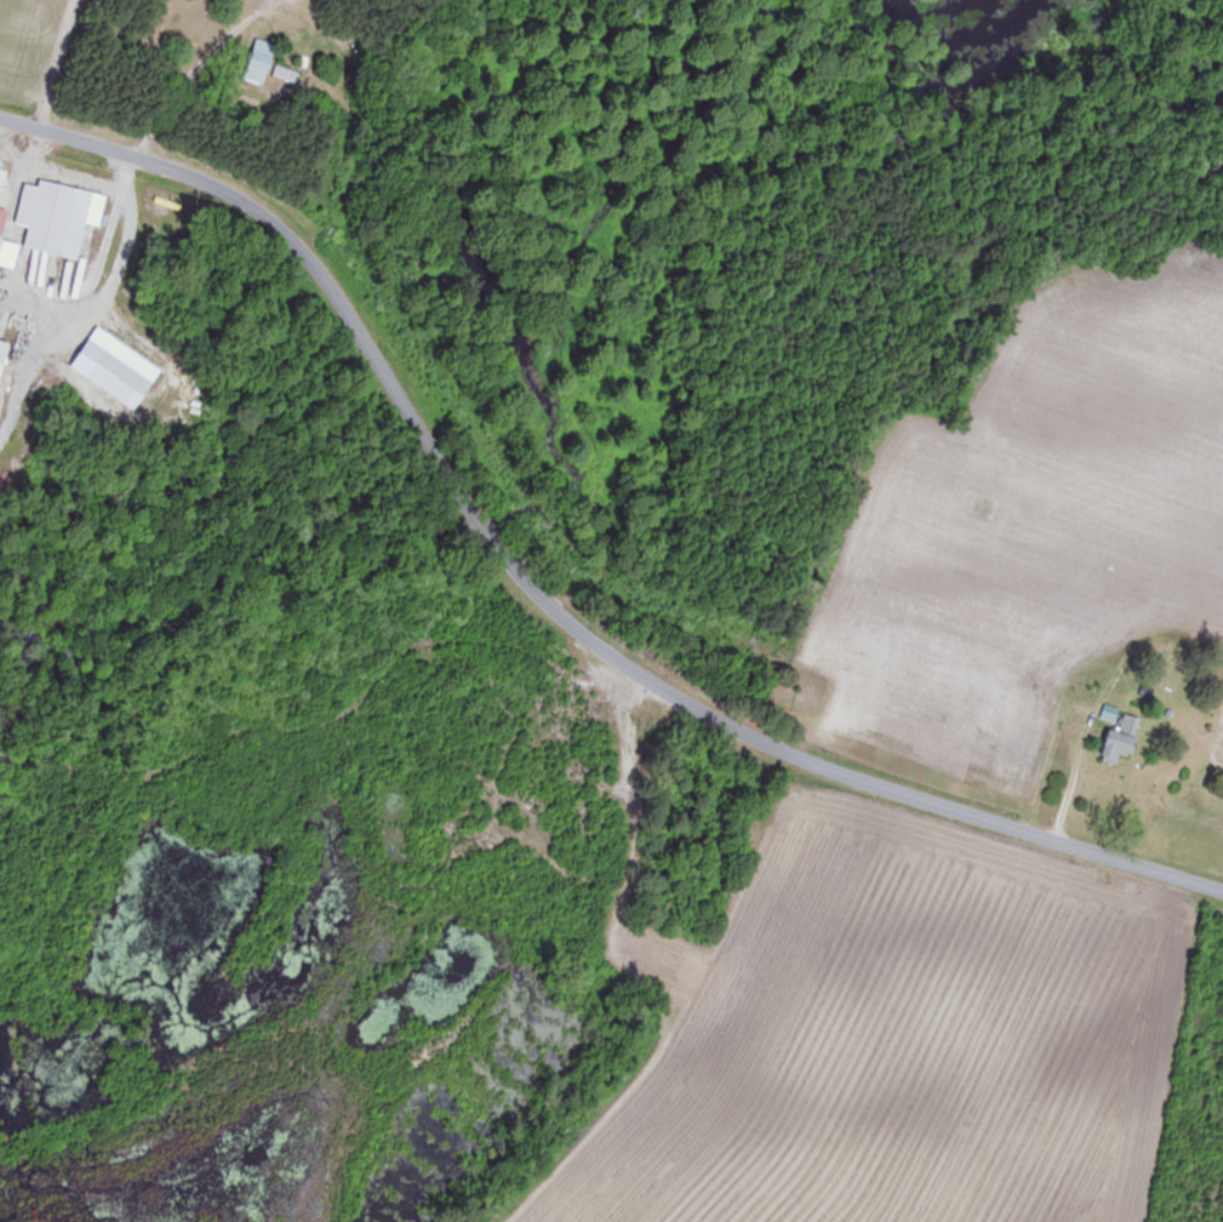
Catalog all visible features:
building: (268, 65)
road: (192, 72)
building: (2, 176)
building: (56, 217)
building: (1, 246)
building: (4, 360)
road: (541, 592)
building: (1124, 738)

